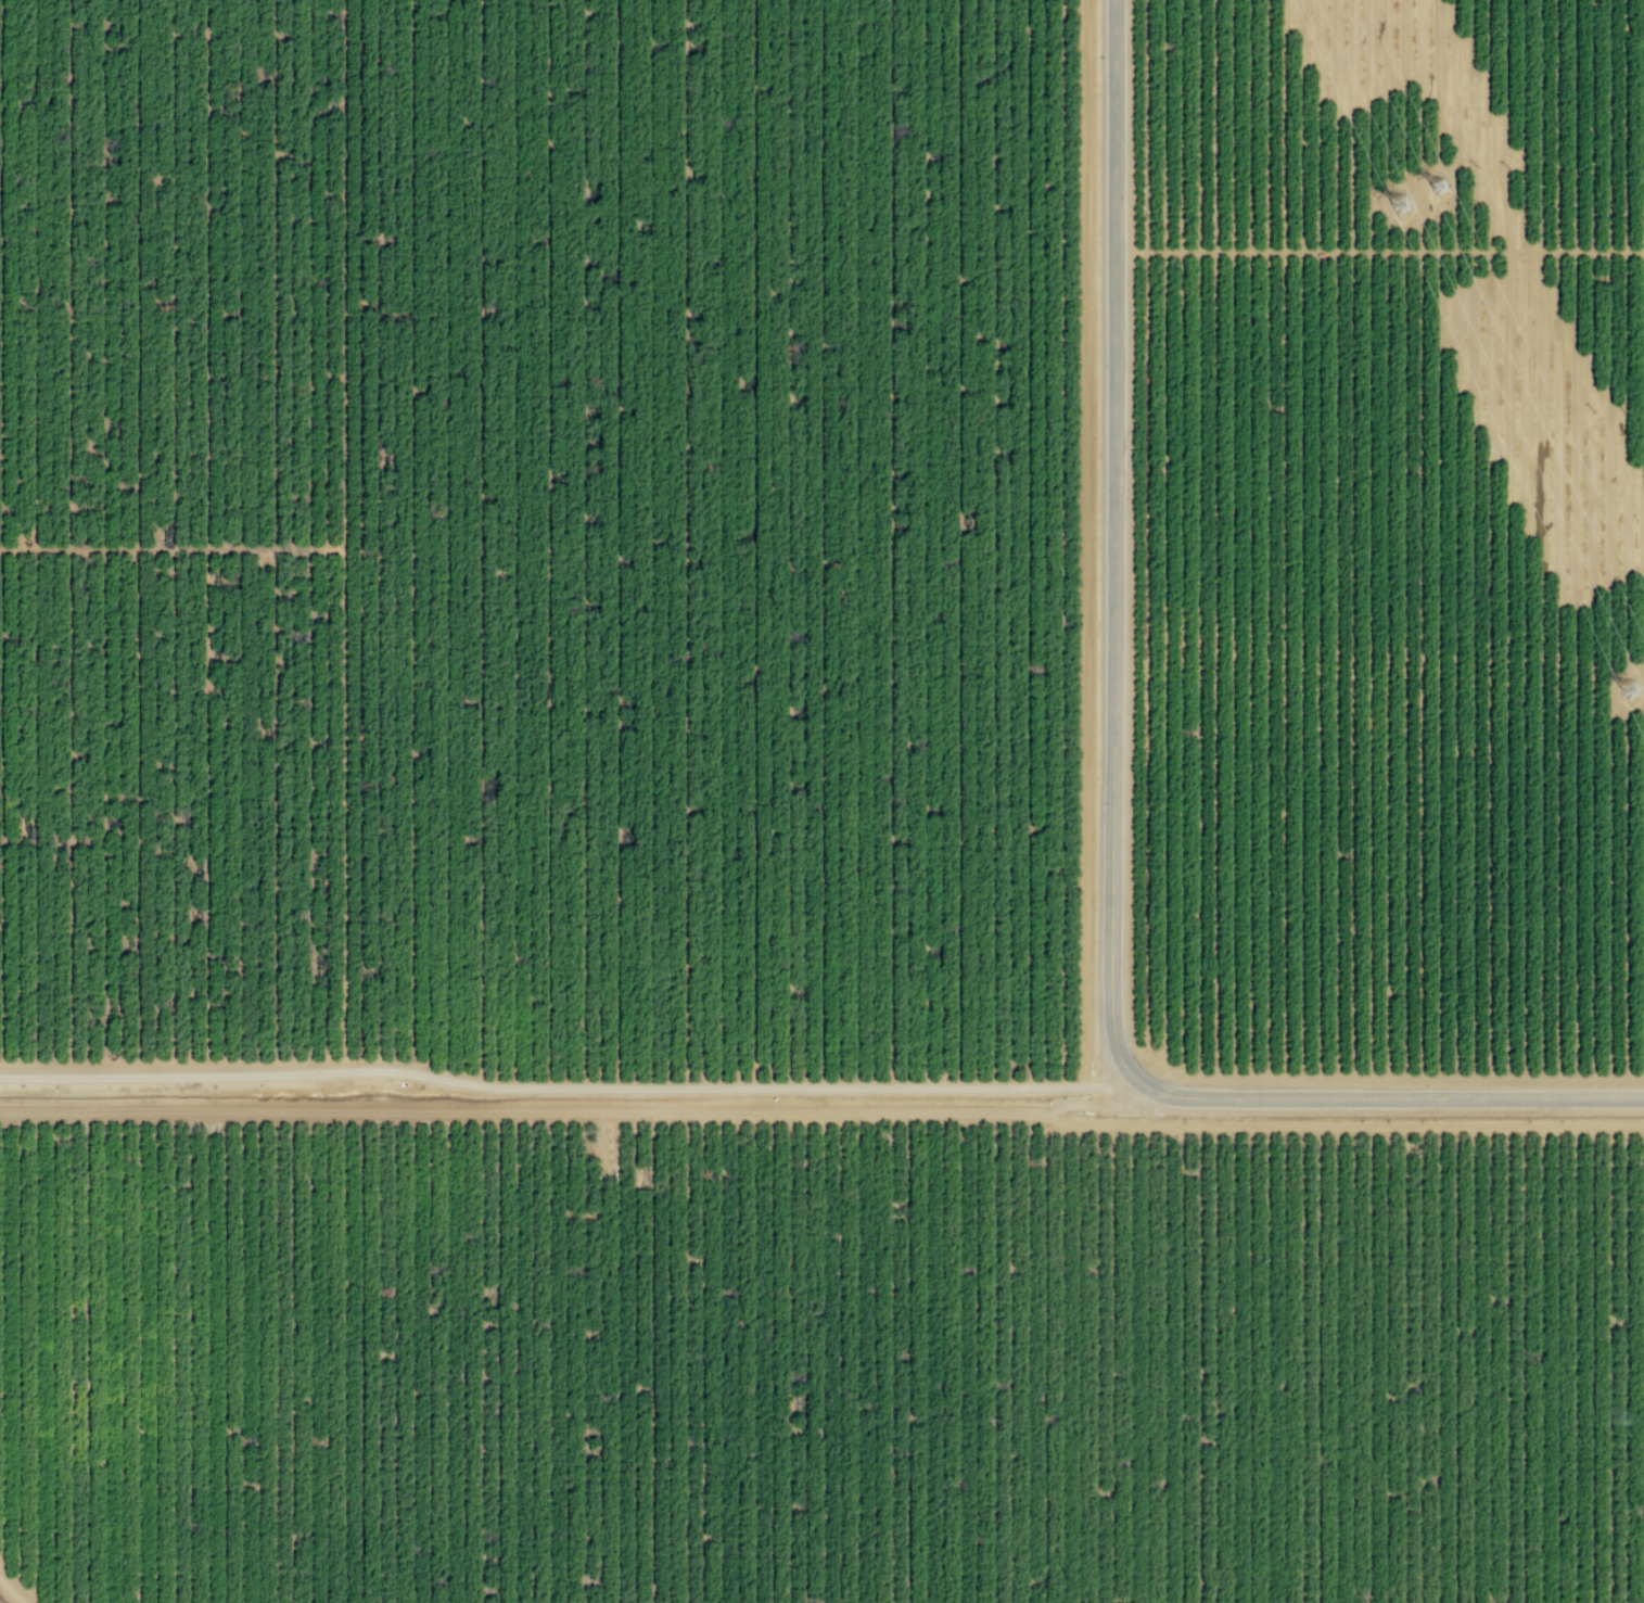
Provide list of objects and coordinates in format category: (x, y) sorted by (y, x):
power tower: (1440, 187)
power tower: (1399, 206)
road: (1378, 252)
power tower: (1629, 691)
road: (1110, 799)
road: (1108, 1082)
road: (1081, 1083)
road: (1100, 1104)
road: (520, 1112)
road: (11, 1590)

